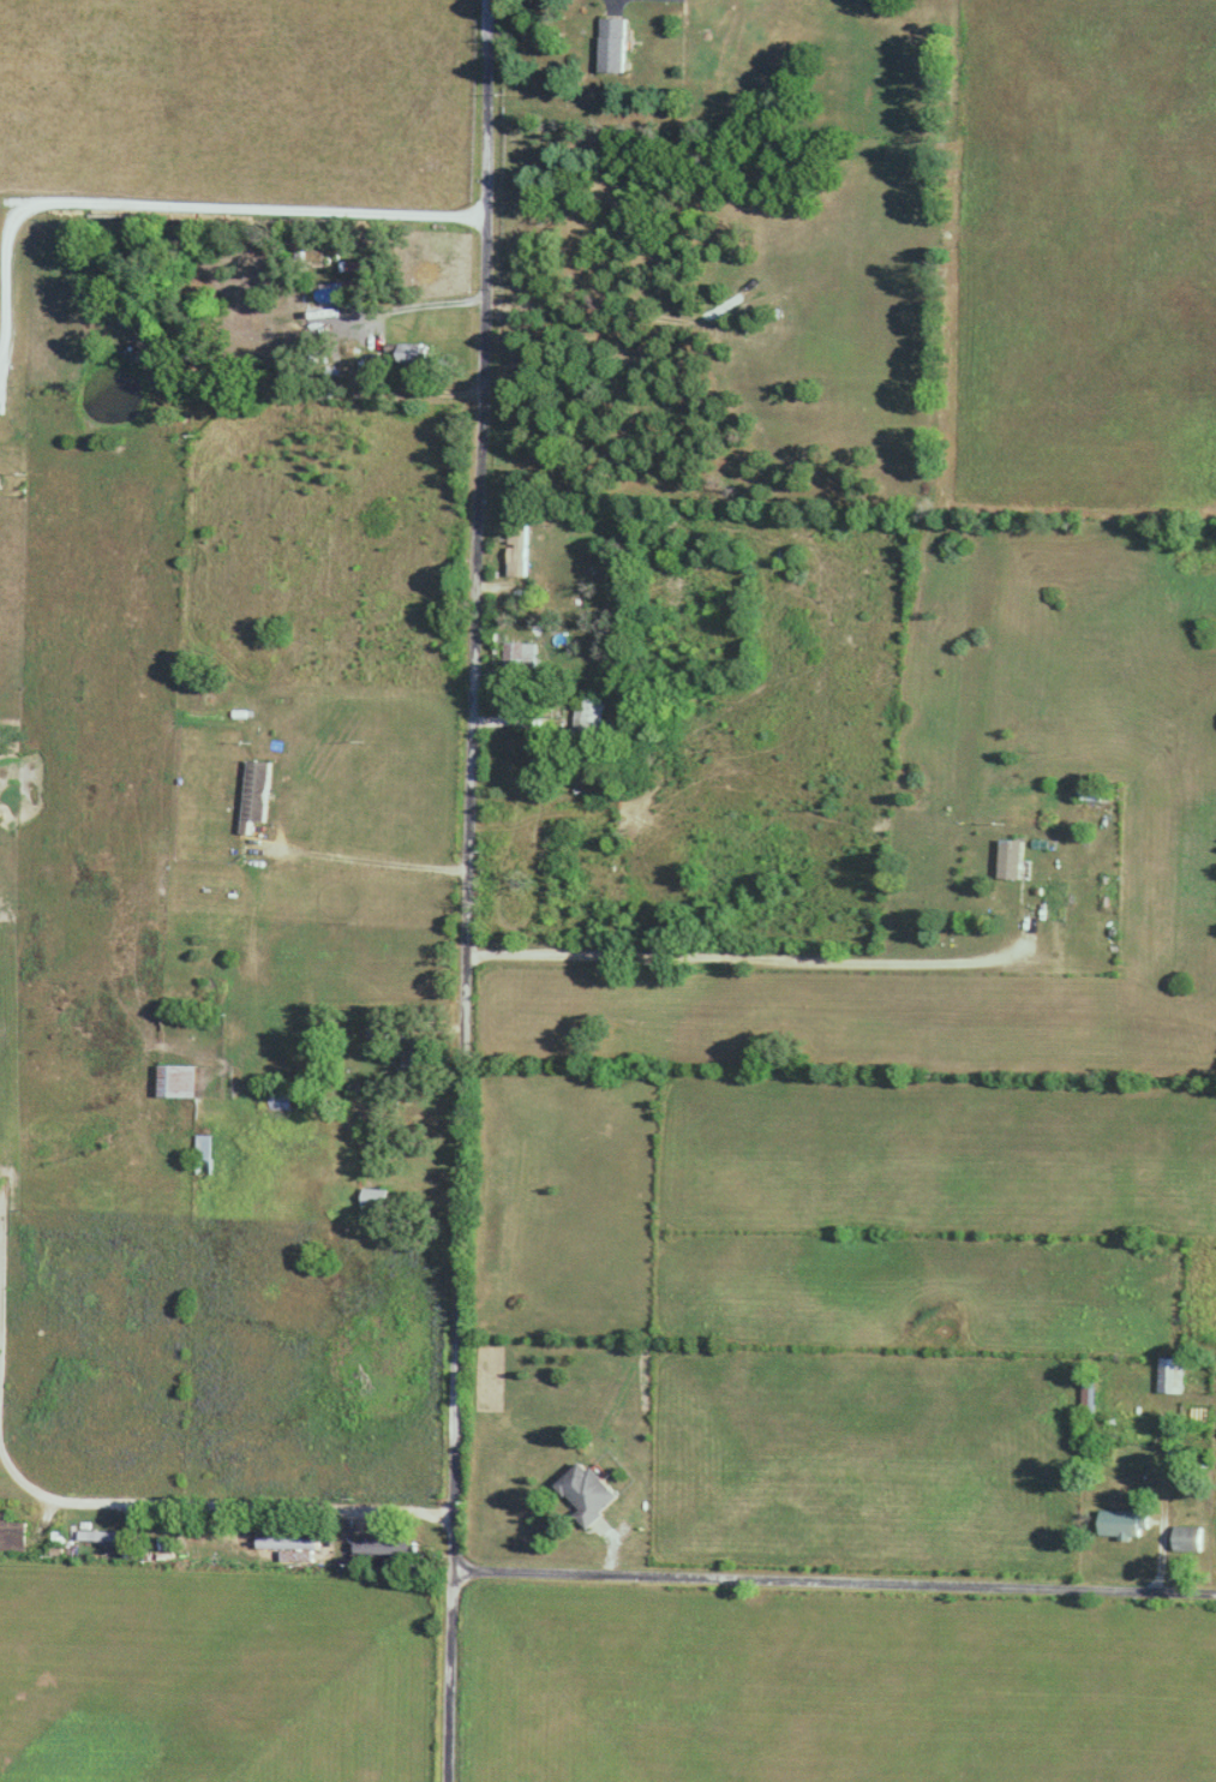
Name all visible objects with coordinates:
road: (618, 8)
building: (616, 44)
road: (176, 204)
building: (134, 315)
building: (409, 353)
road: (317, 383)
building: (520, 549)
building: (521, 657)
building: (589, 717)
building: (259, 793)
building: (1094, 793)
building: (1013, 859)
road: (377, 860)
road: (472, 890)
road: (790, 961)
building: (379, 1029)
building: (415, 1052)
building: (180, 1080)
building: (282, 1096)
road: (435, 1118)
building: (206, 1153)
road: (449, 1198)
building: (378, 1201)
building: (1178, 1374)
building: (1095, 1393)
building: (1186, 1457)
building: (587, 1491)
road: (74, 1509)
building: (1130, 1523)
building: (13, 1533)
building: (103, 1535)
building: (1194, 1537)
building: (196, 1538)
building: (290, 1542)
building: (387, 1545)
road: (835, 1587)

